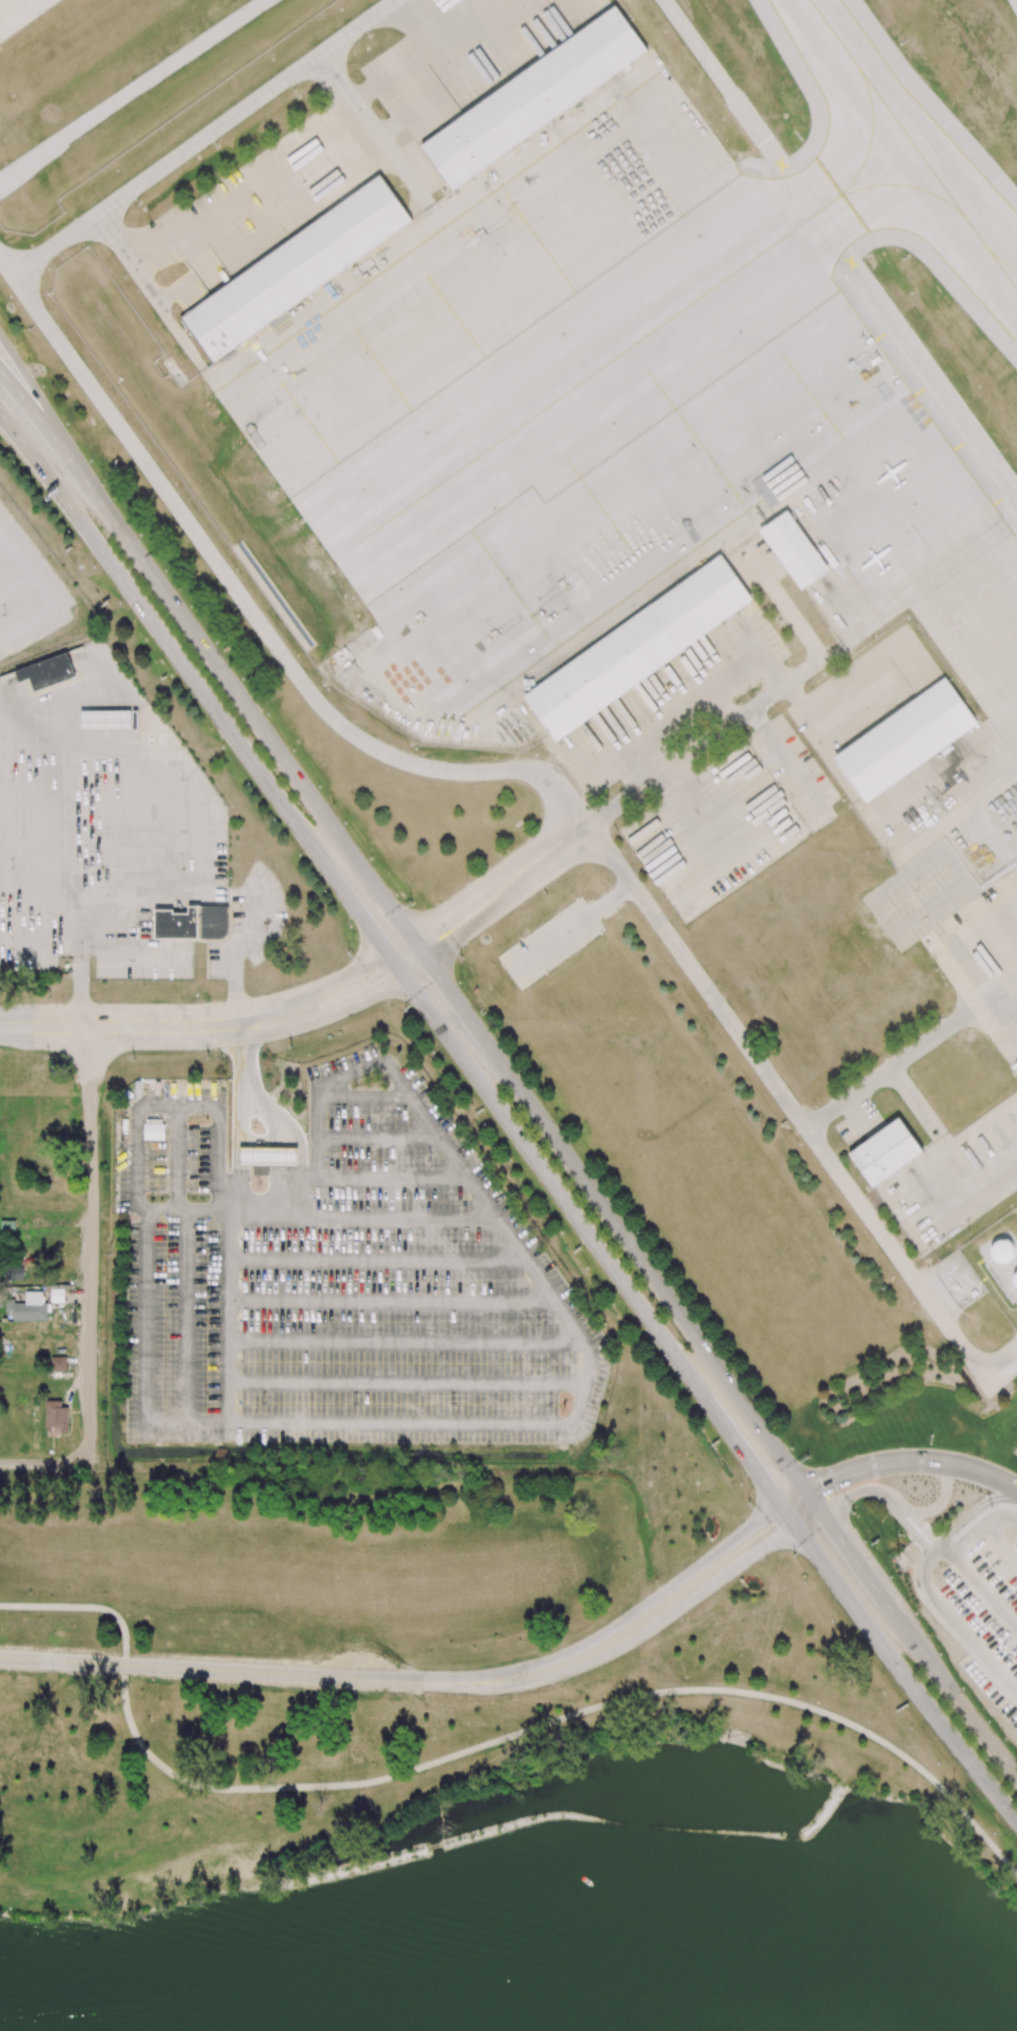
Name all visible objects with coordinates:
airport apron: (19, 13)
road: (547, 17)
road: (464, 79)
building: (532, 99)
road: (372, 130)
airport taxiway: (871, 131)
road: (314, 134)
road: (205, 136)
airport taxiway: (914, 143)
road: (841, 246)
airport taxiway: (1006, 262)
building: (295, 270)
road: (153, 299)
airport taxiway: (656, 310)
street lamp: (29, 364)
road: (13, 394)
road: (42, 408)
airport apron: (618, 416)
road: (42, 424)
road: (29, 453)
street lamp: (102, 479)
street lamp: (56, 514)
road: (5, 543)
building: (794, 550)
road: (16, 582)
street lamp: (178, 588)
parking lot: (26, 590)
road: (46, 592)
airport: (630, 594)
street lamp: (132, 620)
street lamp: (794, 641)
building: (638, 648)
road: (832, 652)
building: (46, 672)
road: (190, 675)
street lamp: (255, 695)
street lamp: (749, 697)
road: (246, 707)
building: (109, 720)
street lamp: (209, 729)
street lamp: (690, 739)
building: (905, 739)
road: (702, 743)
street lamp: (494, 759)
street lamp: (554, 762)
road: (521, 770)
street lamp: (611, 793)
street lamp: (332, 805)
street lamp: (286, 837)
street lamp: (526, 838)
road: (77, 841)
street lamp: (633, 853)
road: (493, 876)
street lamp: (465, 881)
road: (197, 890)
road: (39, 894)
road: (511, 898)
street lamp: (665, 898)
road: (612, 899)
street lamp: (410, 903)
road: (353, 905)
building: (192, 923)
traffic signals: (429, 923)
street lamp: (350, 926)
traffic signals: (370, 930)
parking lot: (550, 943)
road: (551, 943)
road: (398, 945)
road: (244, 947)
road: (418, 947)
road: (130, 949)
street lamp: (347, 952)
street lamp: (460, 959)
road: (1003, 959)
road: (394, 964)
road: (414, 966)
road: (341, 977)
traffic signals: (439, 977)
street lamp: (459, 982)
street lamp: (143, 984)
traffic signals: (383, 988)
road: (1016, 990)
road: (362, 998)
street lamp: (207, 999)
road: (264, 1005)
road: (459, 1005)
street lamp: (404, 1011)
road: (16, 1026)
road: (61, 1027)
road: (164, 1027)
road: (279, 1029)
road: (241, 1050)
road: (910, 1057)
street lamp: (132, 1059)
road: (365, 1096)
road: (256, 1098)
road: (240, 1102)
road: (172, 1105)
road: (857, 1117)
road: (275, 1122)
road: (933, 1129)
building: (154, 1131)
road: (256, 1139)
road: (380, 1140)
road: (300, 1147)
building: (884, 1152)
building: (270, 1156)
road: (178, 1158)
road: (277, 1165)
road: (287, 1169)
road: (239, 1171)
road: (394, 1179)
road: (552, 1184)
road: (971, 1193)
road: (300, 1196)
road: (326, 1215)
road: (90, 1245)
building: (1004, 1251)
road: (376, 1257)
road: (649, 1272)
building: (14, 1273)
parking lot: (340, 1279)
building: (1015, 1280)
road: (390, 1299)
building: (31, 1307)
road: (184, 1318)
road: (228, 1318)
road: (405, 1342)
building: (58, 1363)
road: (1001, 1368)
road: (406, 1381)
street lamp: (754, 1392)
building: (56, 1417)
road: (552, 1424)
street lamp: (704, 1428)
street lamp: (901, 1447)
road: (742, 1450)
street lamp: (804, 1457)
road: (887, 1463)
road: (46, 1464)
street lamp: (818, 1467)
street lamp: (79, 1473)
road: (995, 1477)
street lamp: (869, 1481)
street lamp: (938, 1483)
traffic signals: (822, 1484)
traffic signals: (769, 1489)
road: (856, 1492)
road: (795, 1499)
road: (942, 1500)
street lamp: (933, 1501)
street lamp: (749, 1502)
road: (813, 1502)
street lamp: (854, 1511)
street lamp: (888, 1513)
road: (969, 1515)
road: (789, 1516)
road: (808, 1519)
road: (917, 1519)
road: (980, 1525)
traffic signals: (832, 1527)
road: (909, 1528)
traffic signals: (778, 1537)
road: (999, 1545)
road: (942, 1546)
road: (939, 1552)
street lamp: (795, 1555)
road: (743, 1562)
street lamp: (767, 1562)
road: (859, 1565)
road: (923, 1573)
street lamp: (655, 1580)
road: (981, 1591)
road: (85, 1608)
road: (635, 1614)
parking lot: (987, 1615)
street lamp: (684, 1621)
street lamp: (929, 1634)
street lamp: (936, 1635)
street lamp: (561, 1641)
road: (974, 1645)
road: (922, 1652)
road: (587, 1663)
road: (233, 1672)
street lamp: (52, 1673)
street lamp: (872, 1673)
road: (903, 1675)
street lamp: (152, 1679)
street lamp: (254, 1685)
street lamp: (348, 1691)
street lamp: (457, 1697)
road: (981, 1731)
street lamp: (1006, 1738)
park: (452, 1743)
road: (479, 1749)
street lamp: (953, 1780)
road: (961, 1809)

